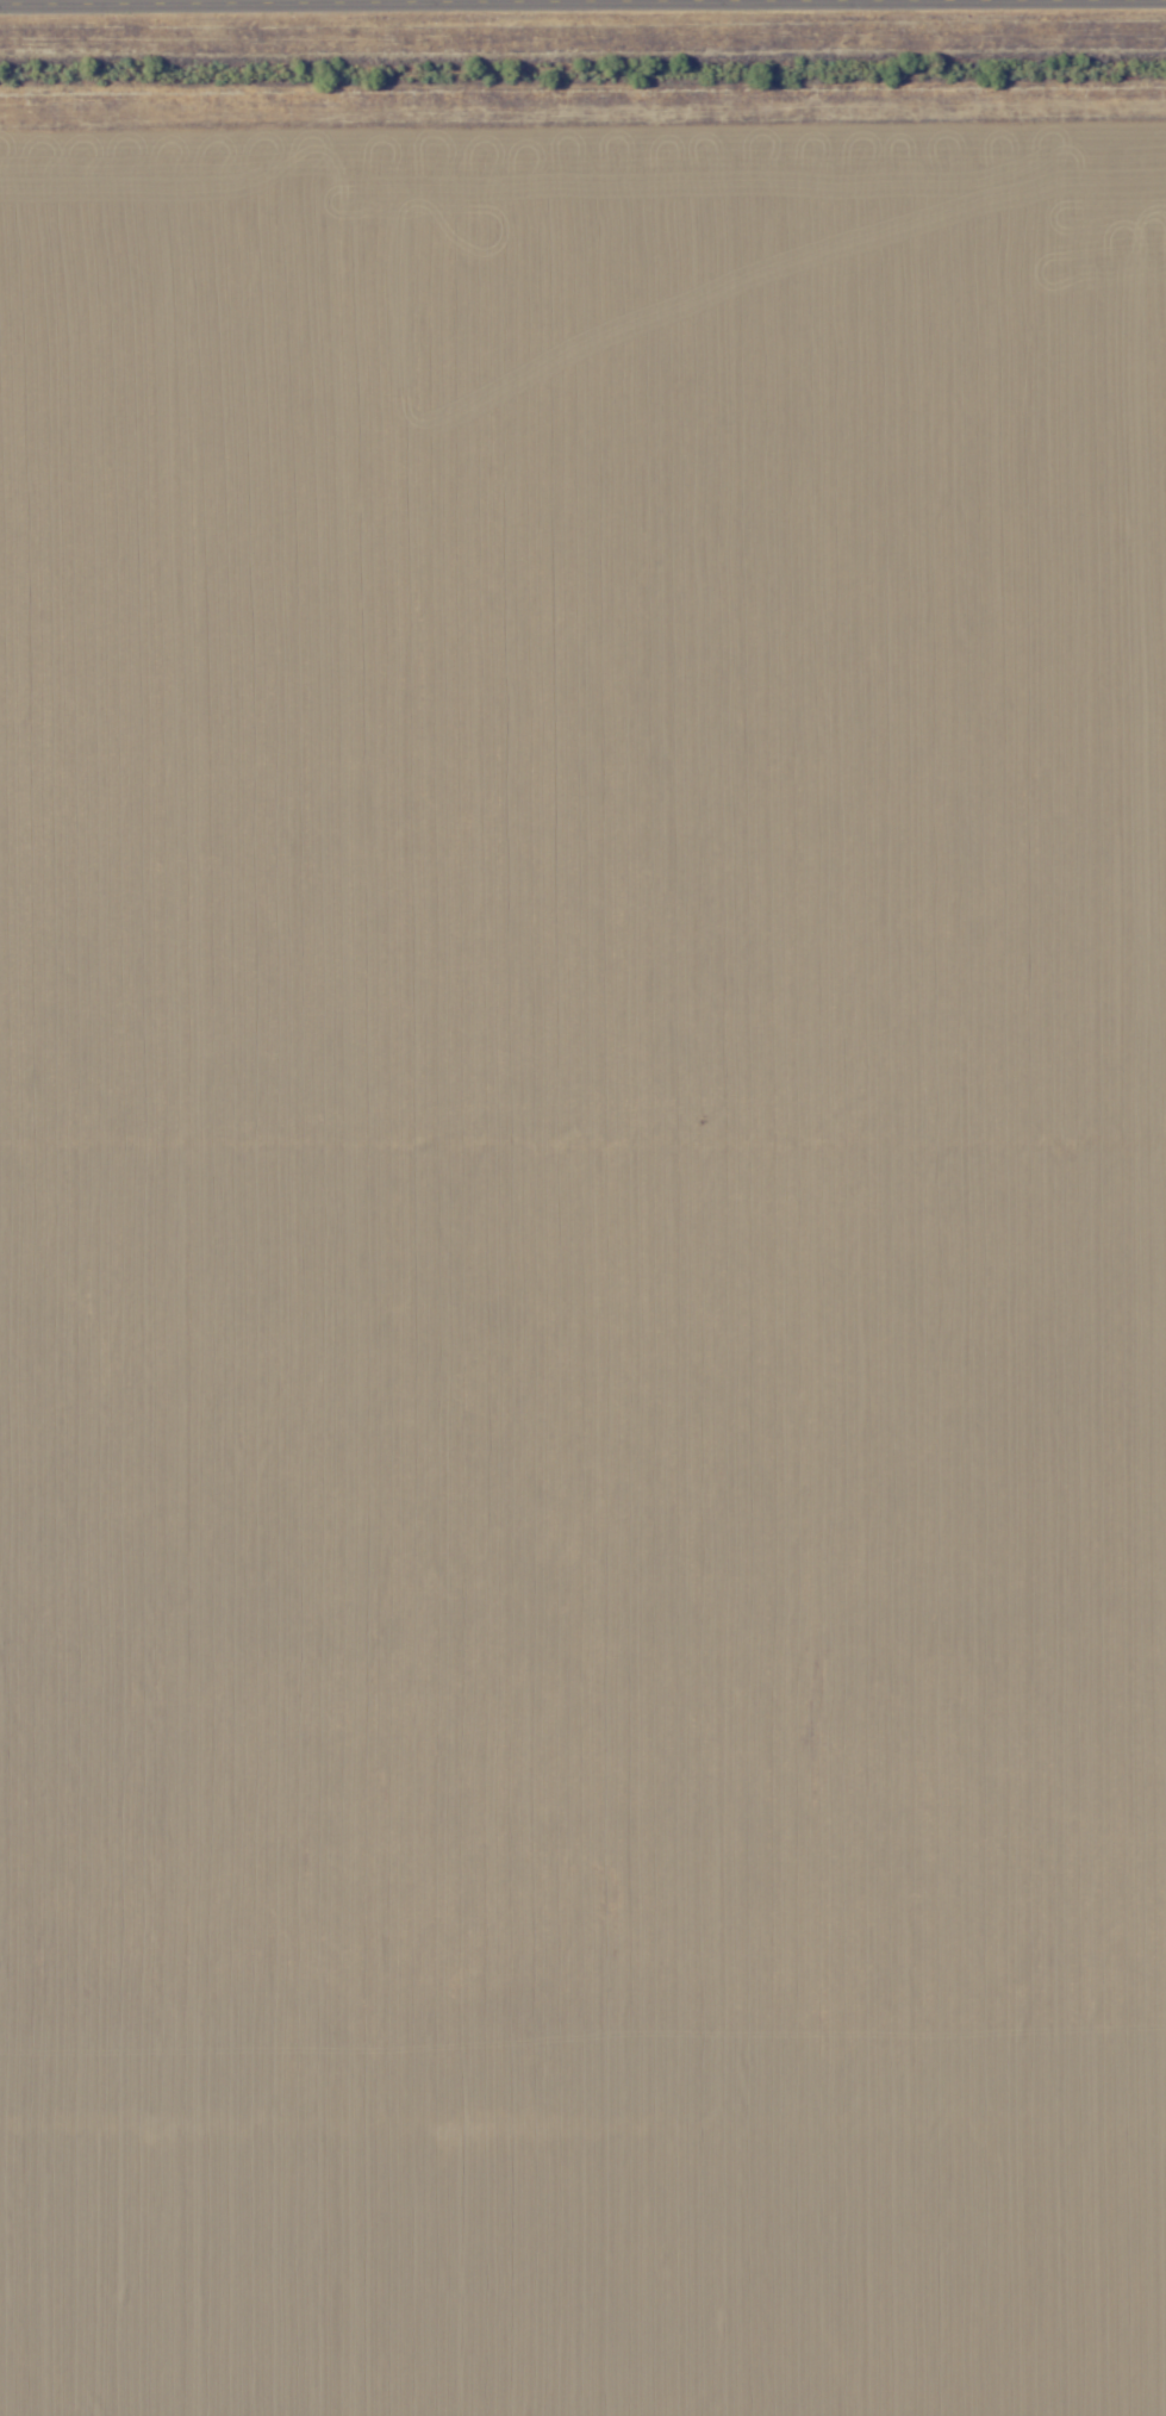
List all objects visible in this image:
road: (563, 2)

